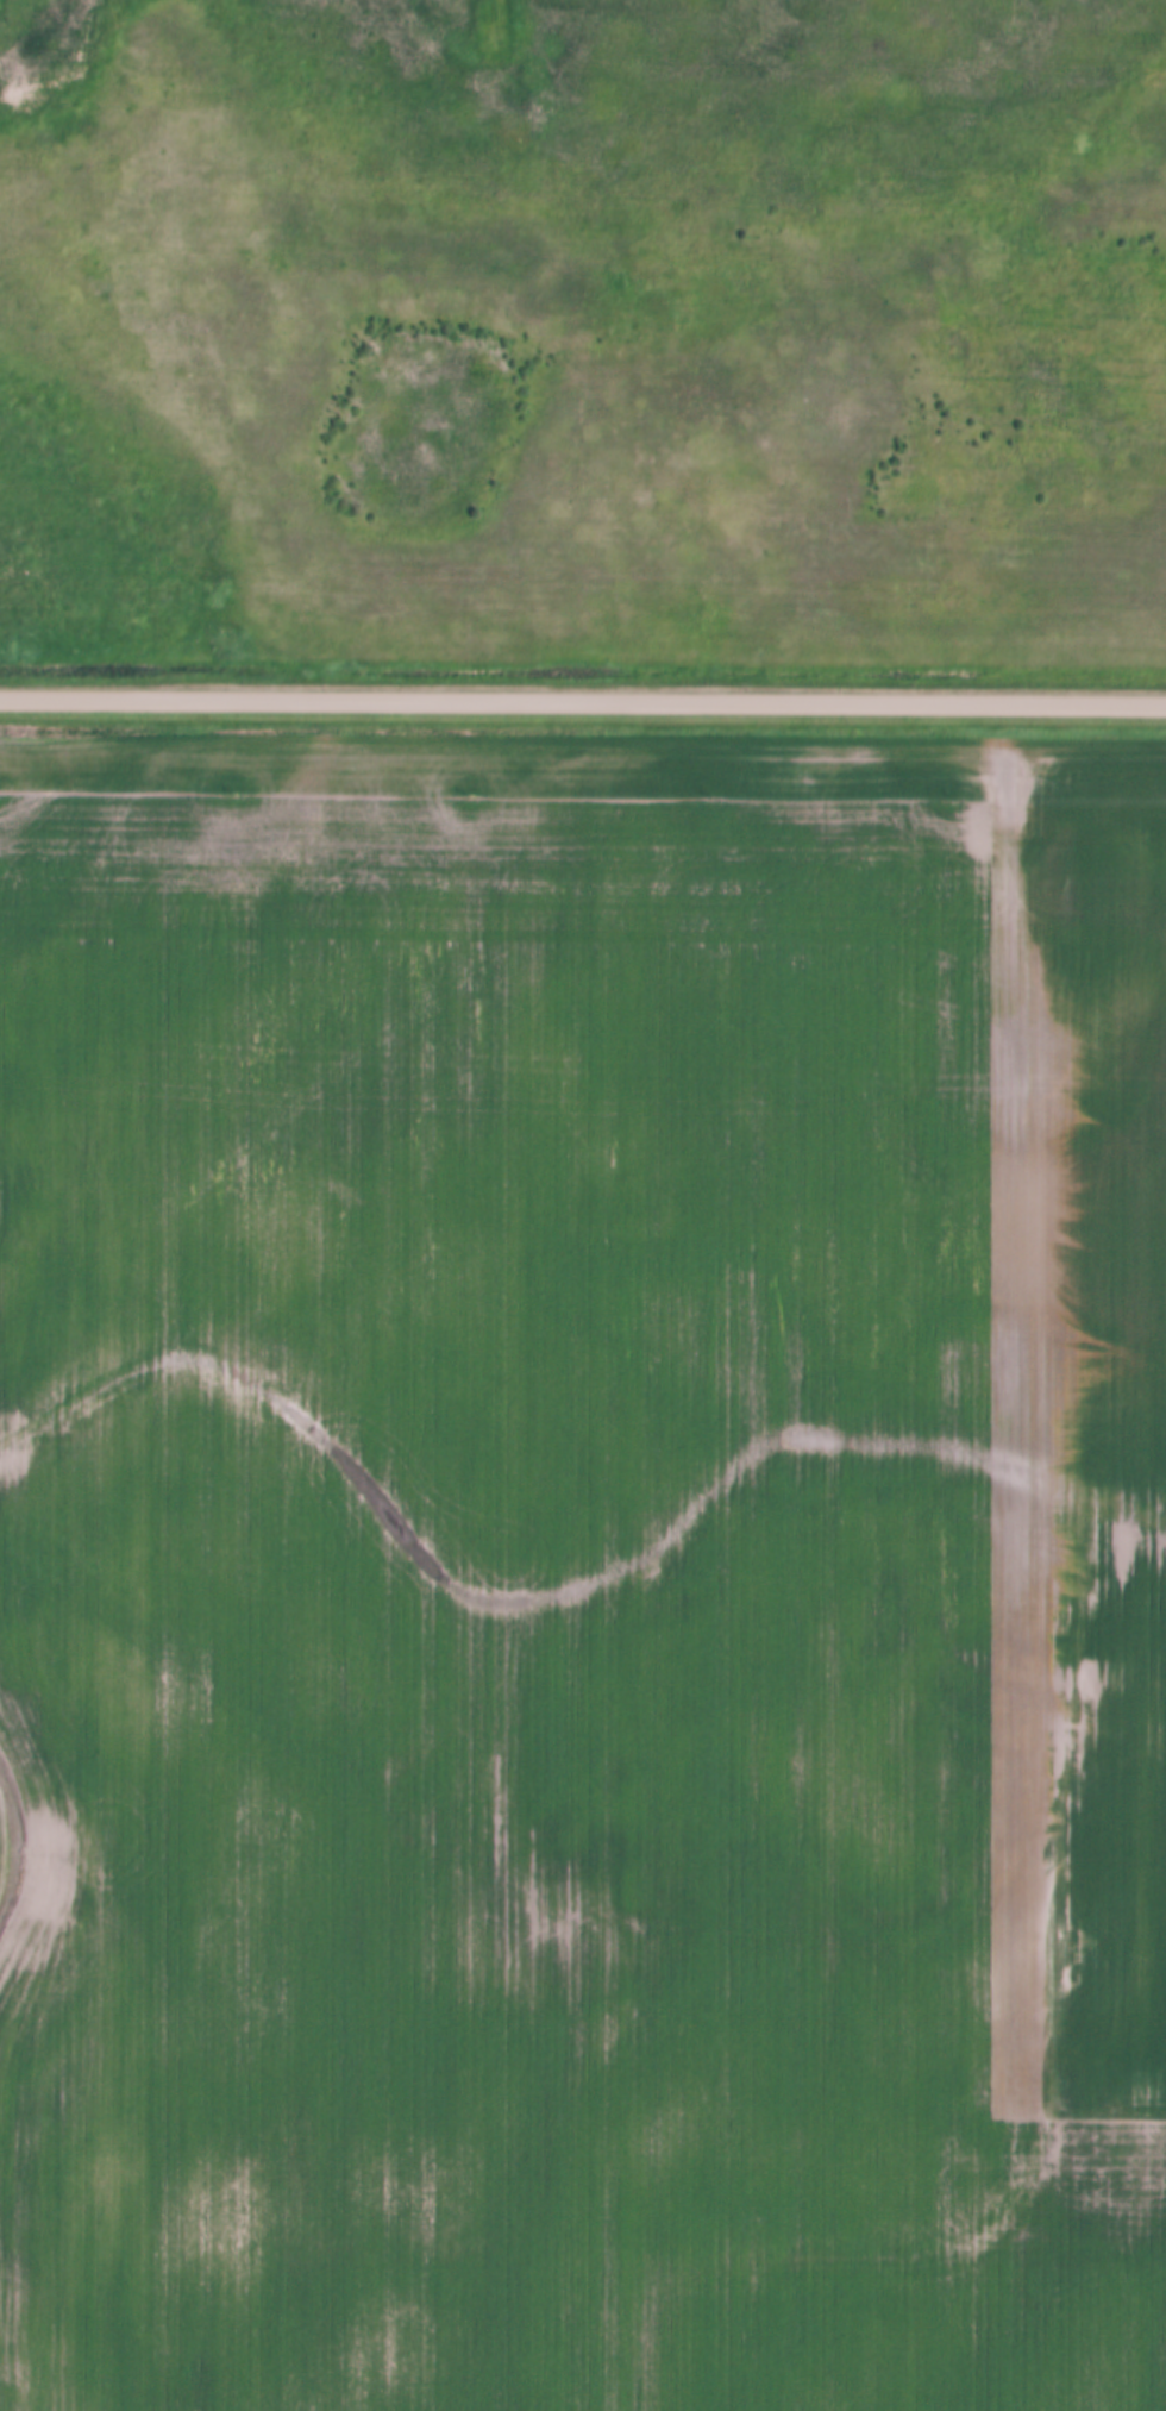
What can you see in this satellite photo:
road: (583, 706)

